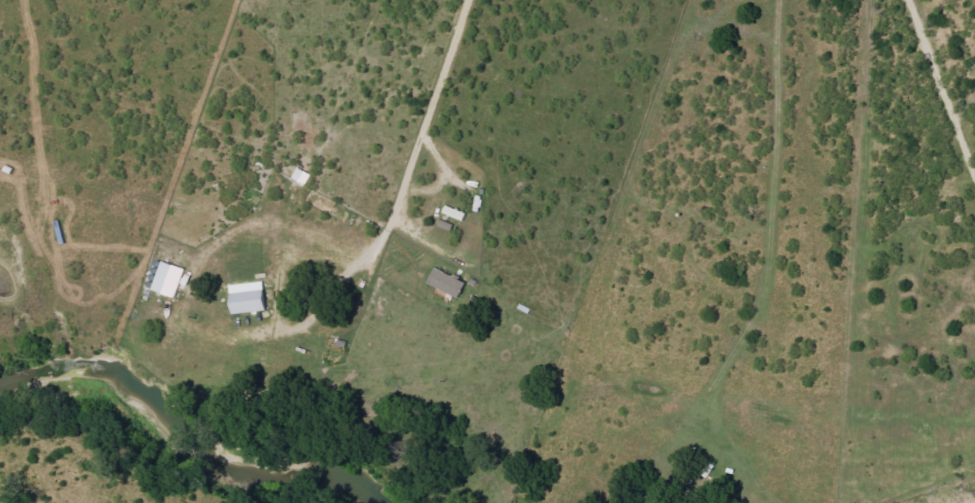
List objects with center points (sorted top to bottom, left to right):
road: (939, 94)
road: (424, 124)
building: (171, 279)
building: (450, 282)
building: (251, 301)
road: (321, 303)
river: (186, 438)

